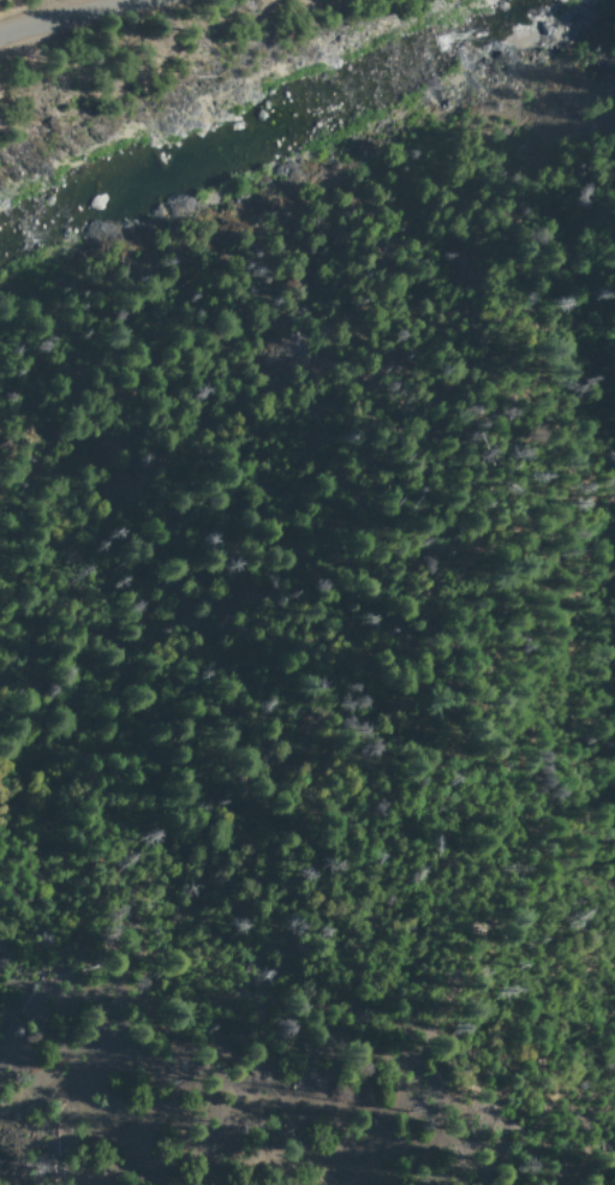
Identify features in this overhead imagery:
road: (20, 7)
river: (271, 133)

